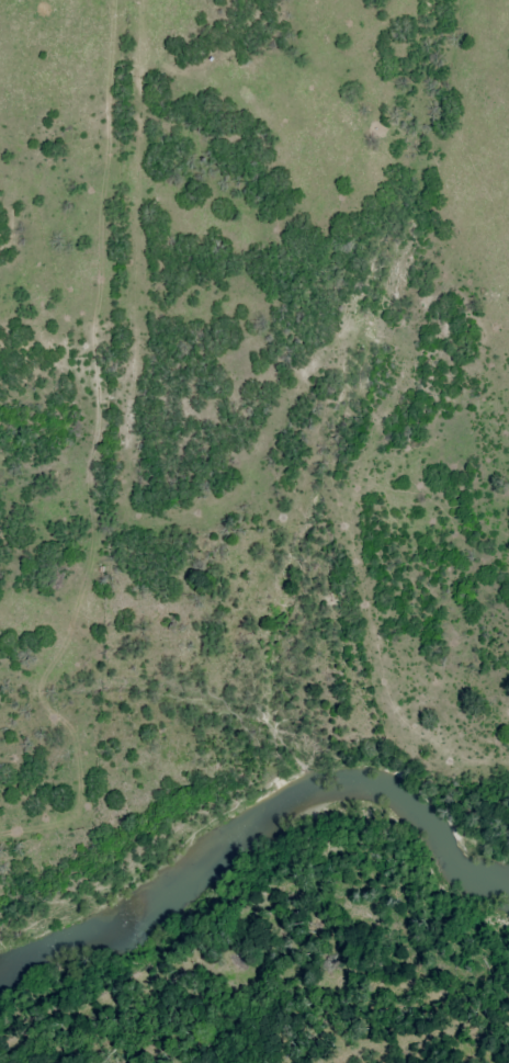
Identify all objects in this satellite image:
river: (257, 818)

